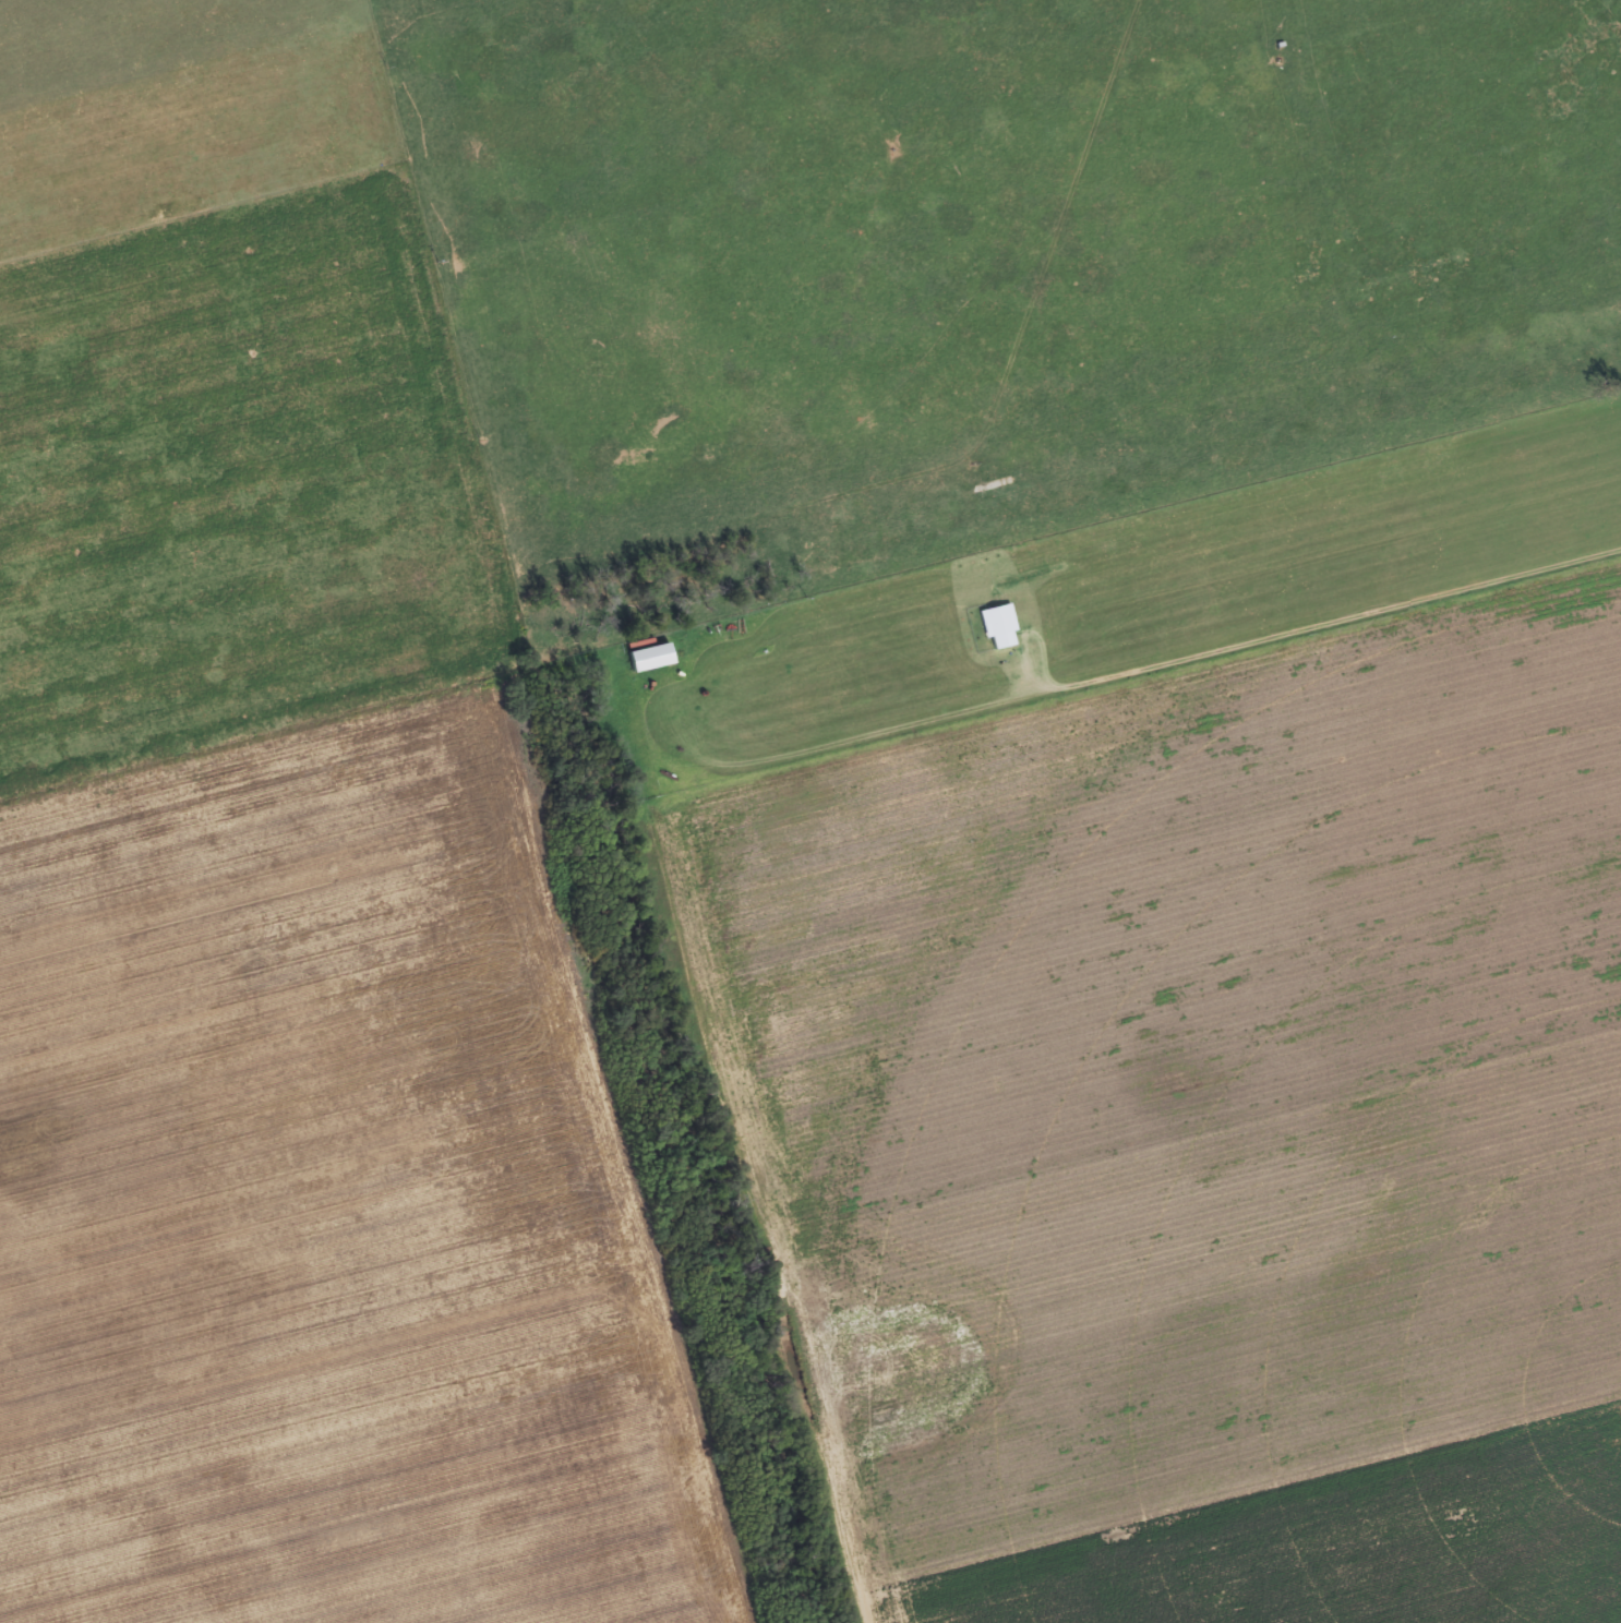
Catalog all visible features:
road: (1342, 313)

